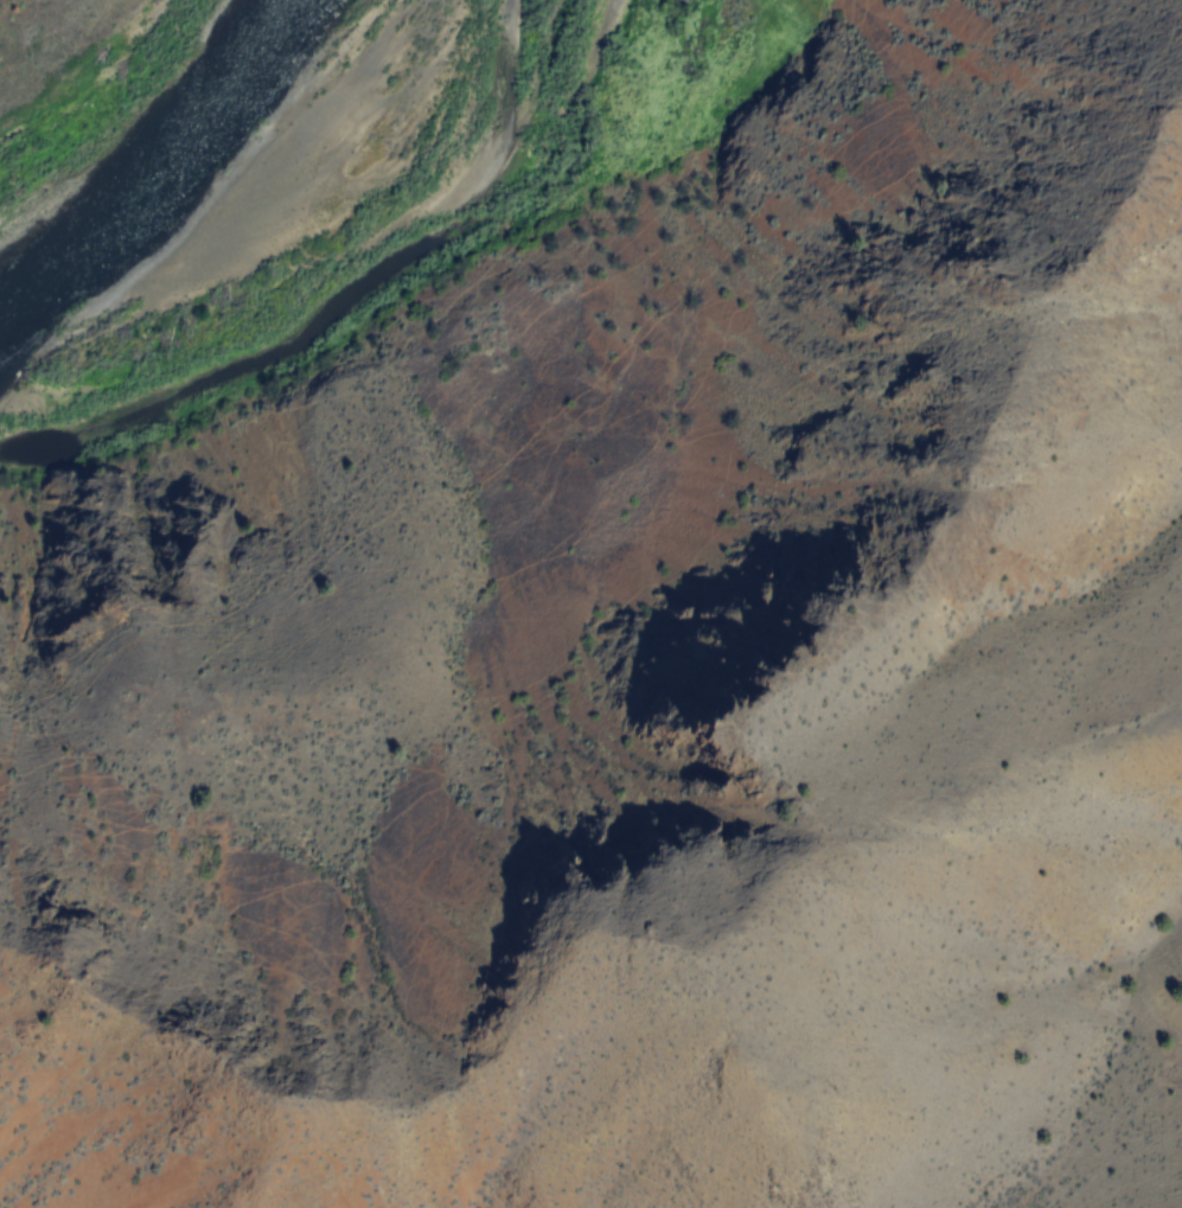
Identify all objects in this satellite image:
river: (153, 146)

